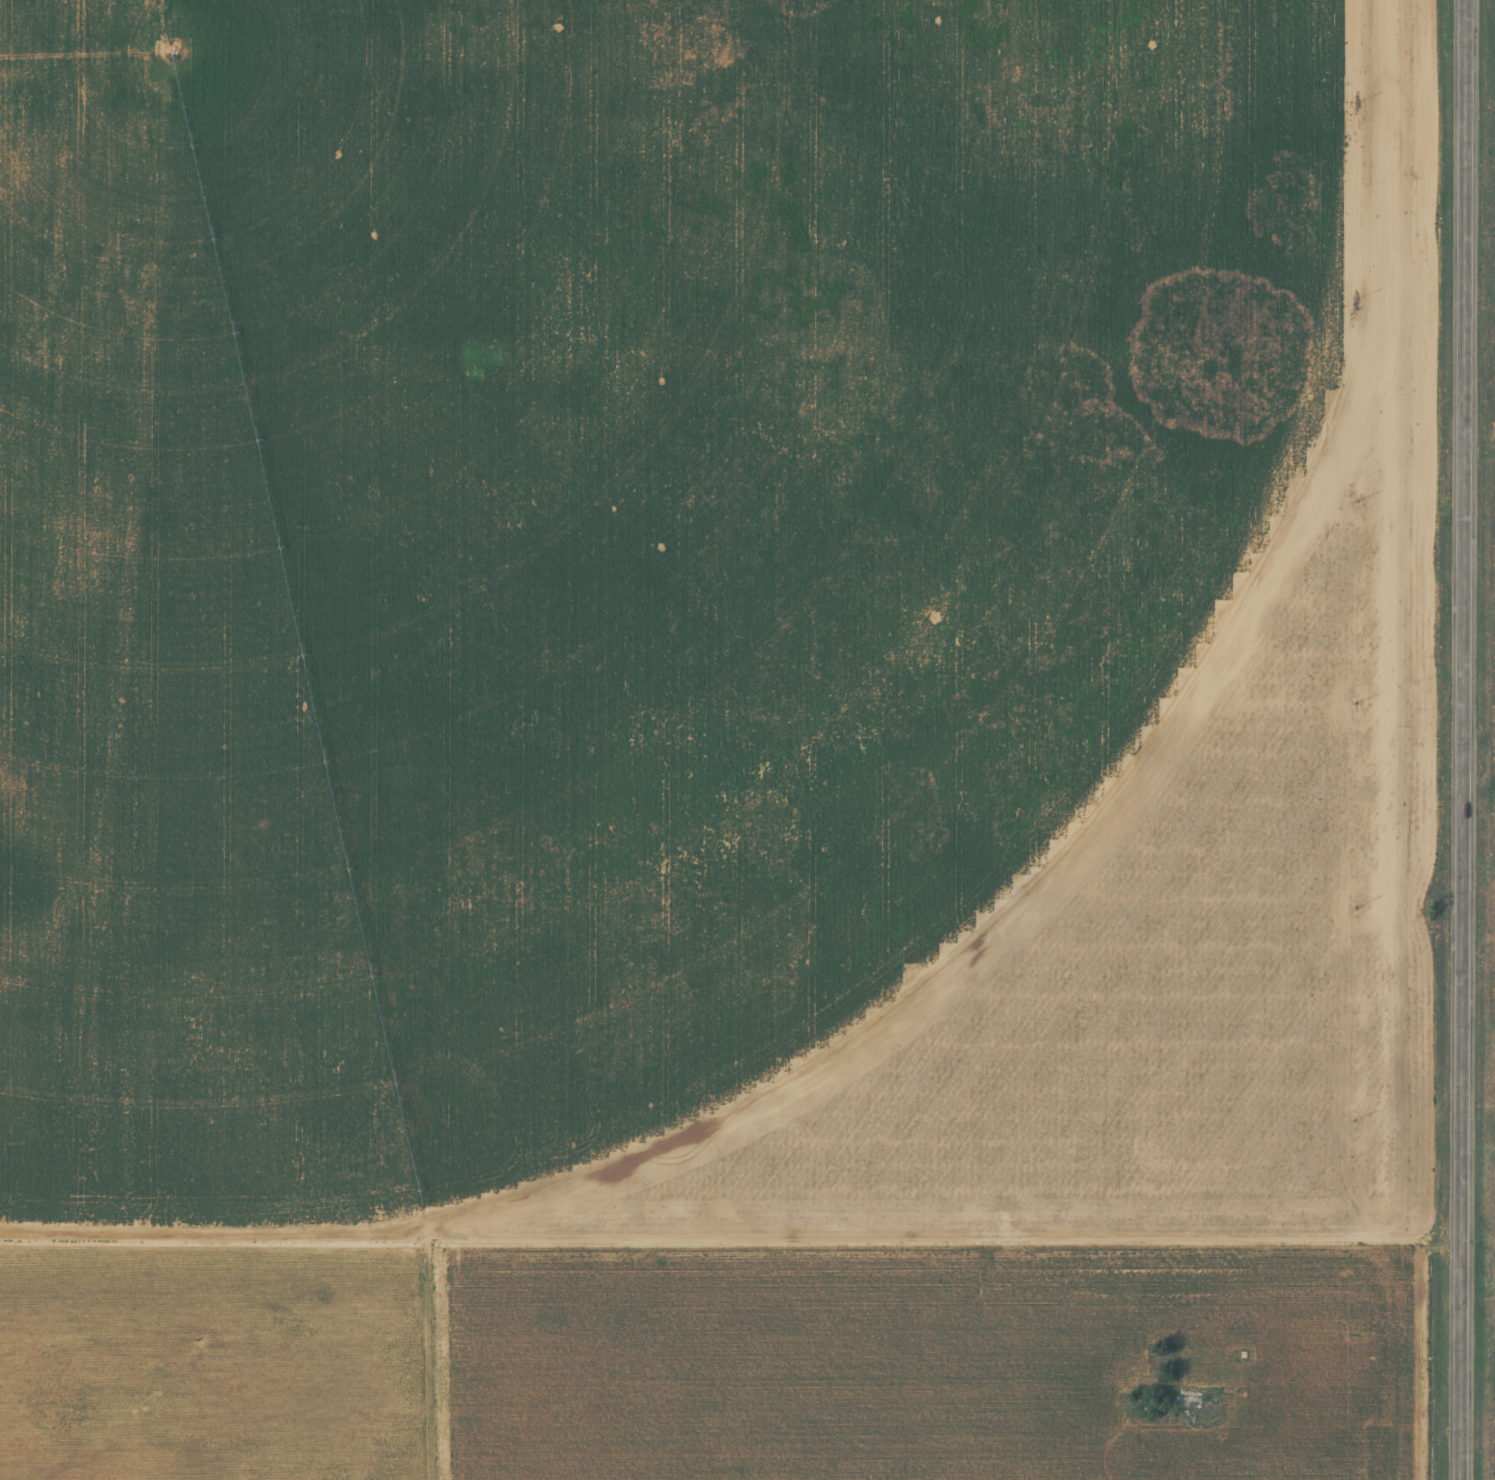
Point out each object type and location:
road: (1467, 740)

